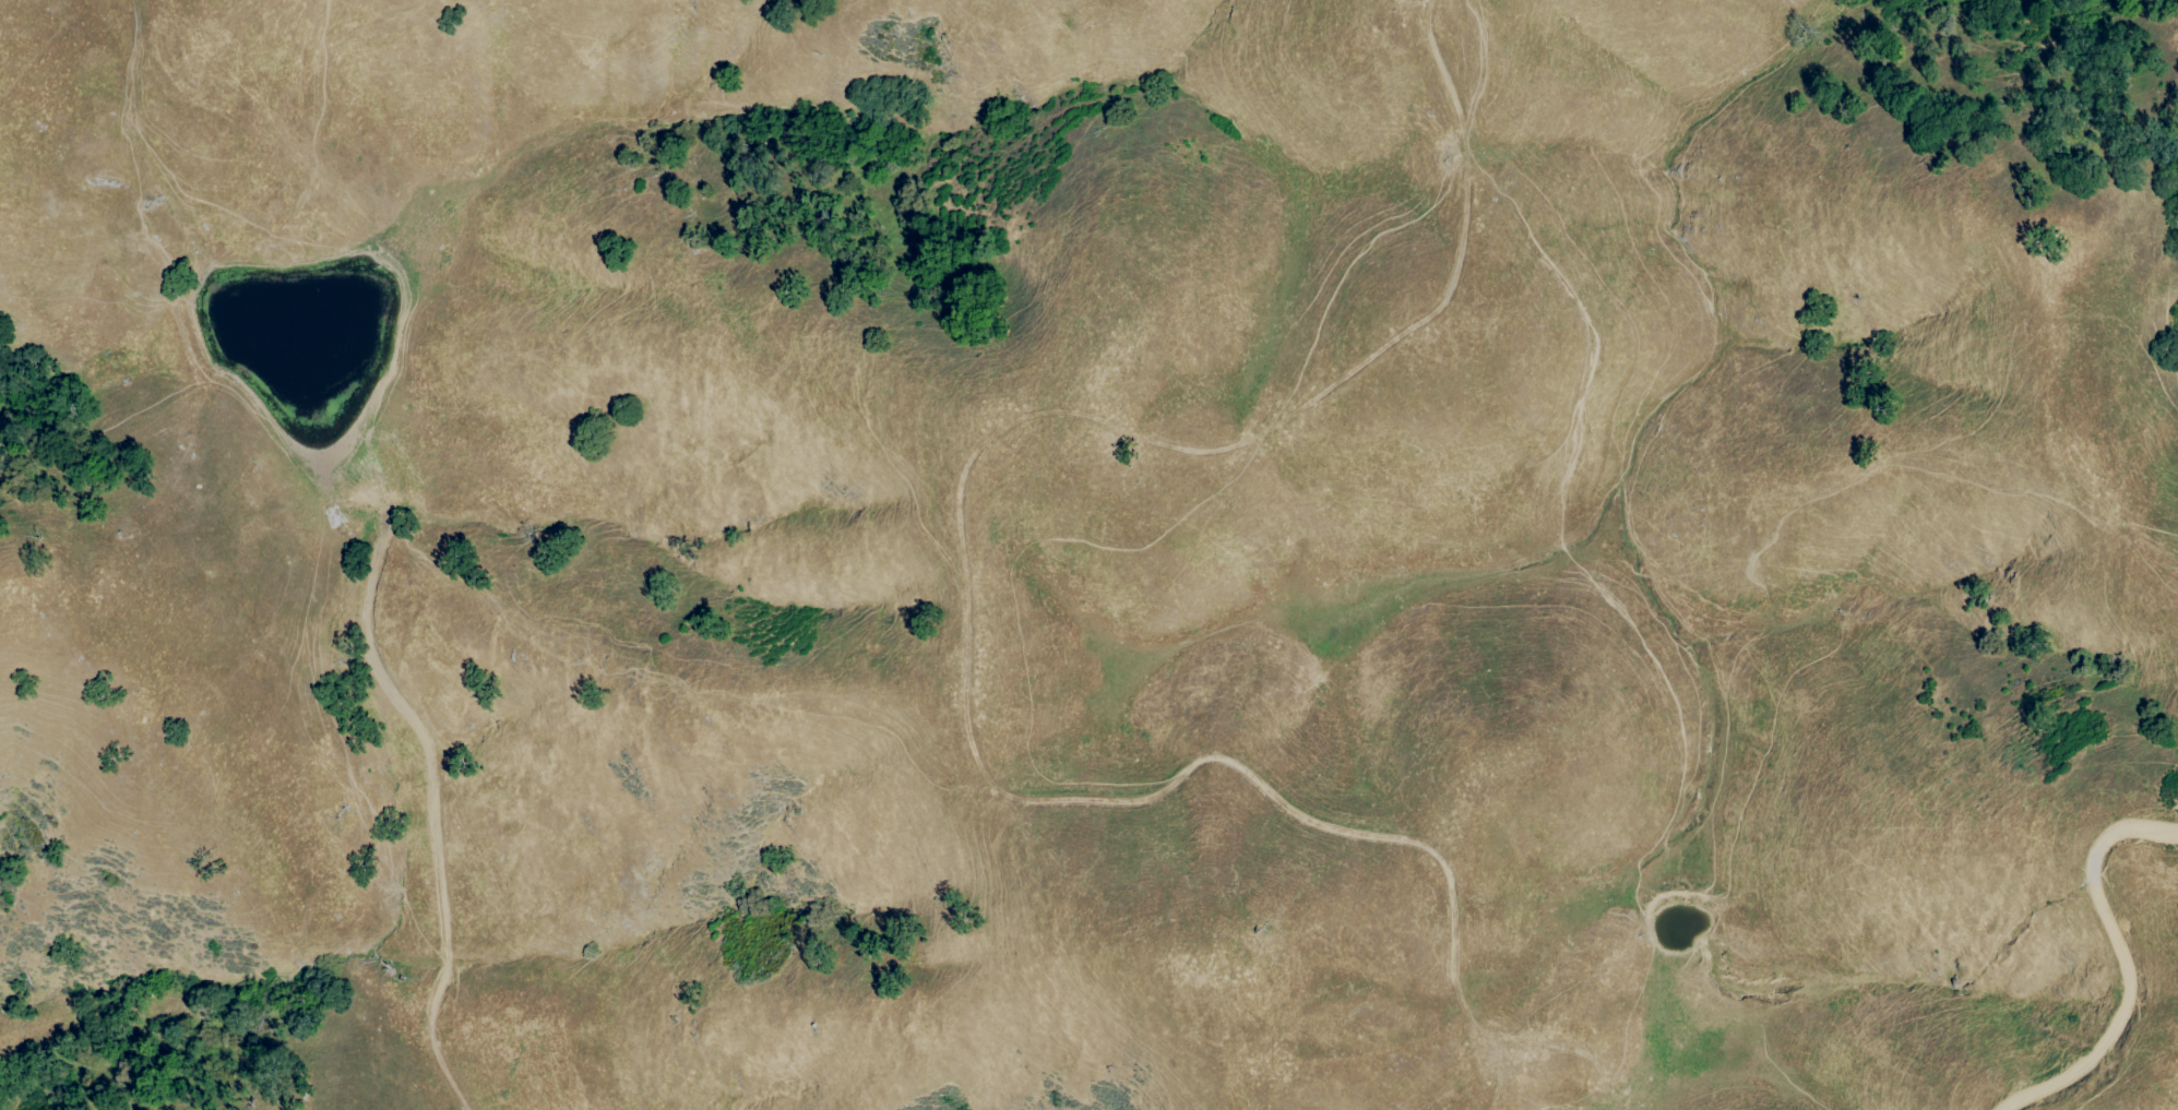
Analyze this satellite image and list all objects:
road: (2130, 970)

